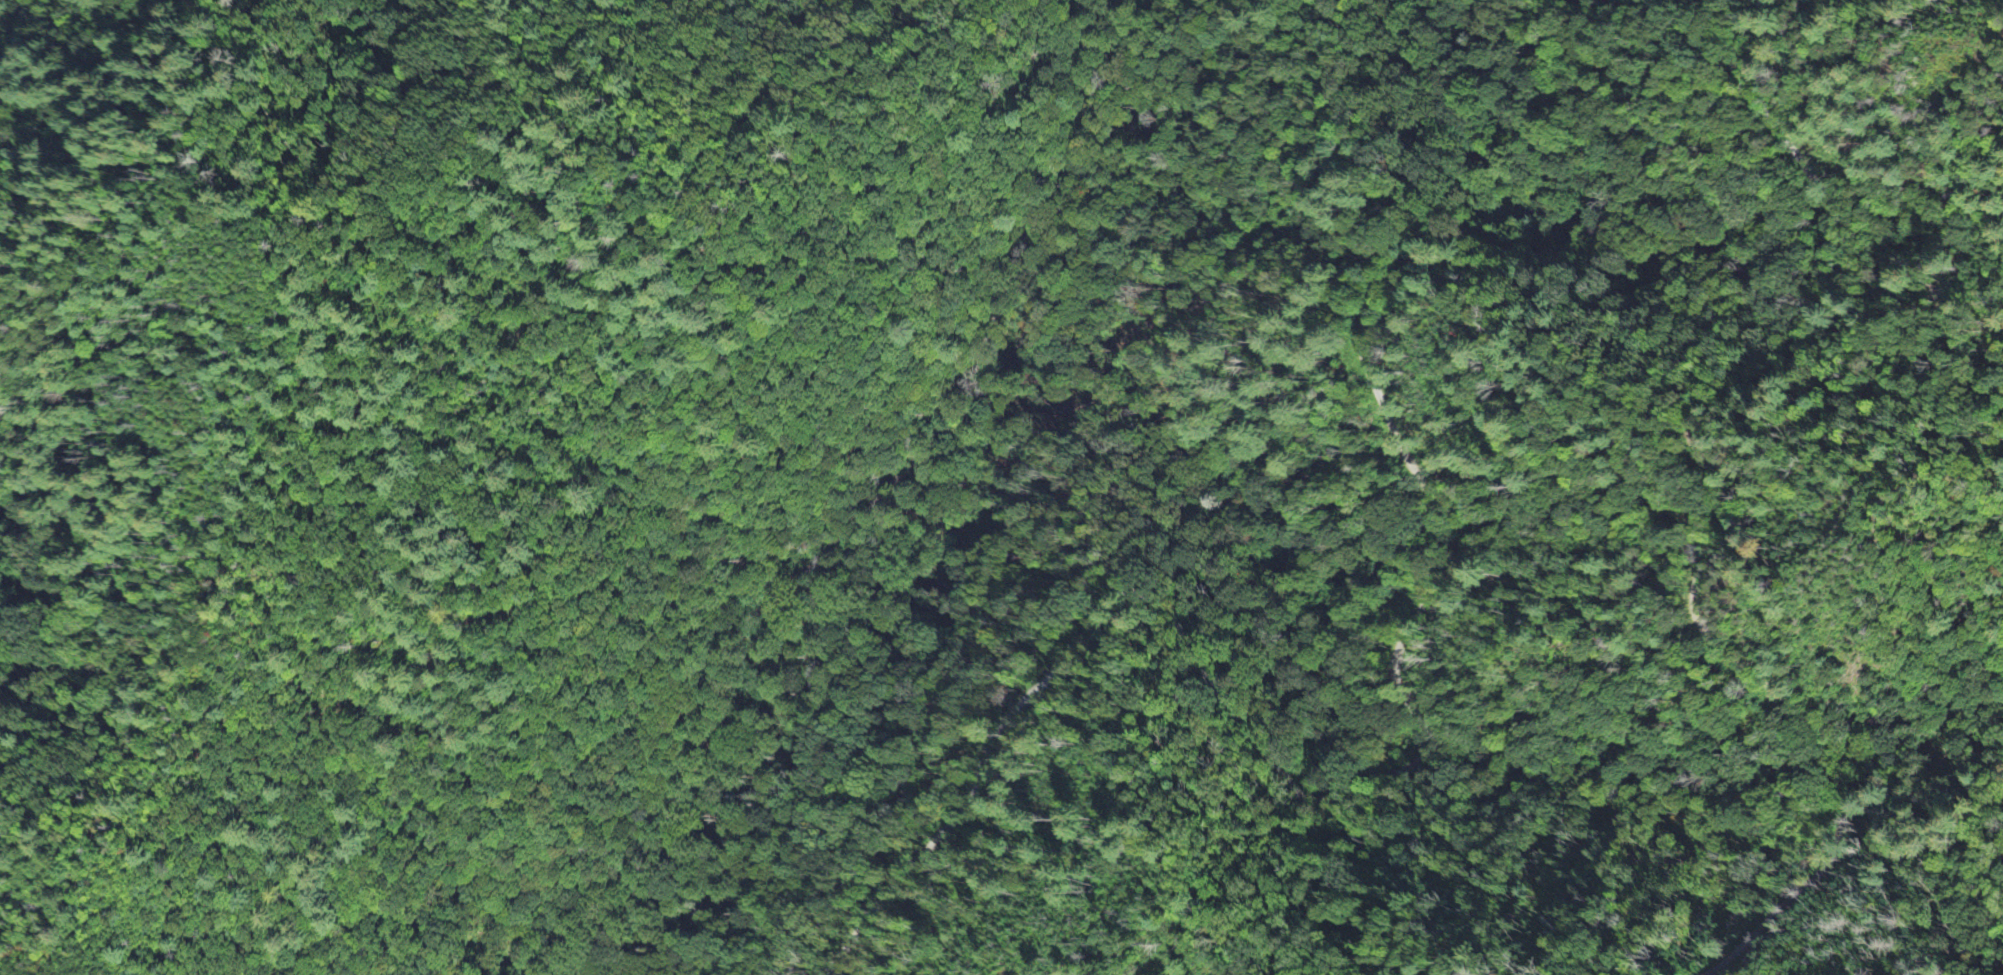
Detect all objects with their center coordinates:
road: (864, 512)
road: (1722, 541)
road: (1418, 719)

